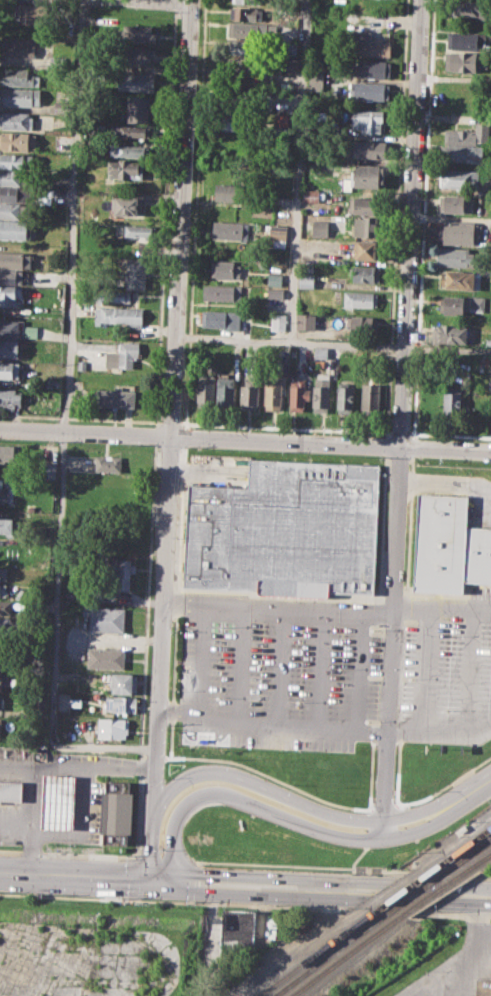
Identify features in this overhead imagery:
road: (162, 2)
building: (249, 2)
road: (175, 5)
building: (472, 8)
building: (32, 12)
building: (247, 13)
building: (245, 30)
building: (140, 33)
building: (466, 41)
building: (368, 44)
building: (240, 47)
building: (19, 48)
building: (291, 48)
building: (139, 56)
building: (464, 61)
building: (242, 65)
building: (291, 65)
building: (58, 66)
building: (372, 68)
building: (20, 77)
building: (315, 79)
building: (136, 82)
building: (369, 90)
building: (20, 96)
building: (281, 104)
building: (62, 107)
building: (138, 109)
building: (370, 120)
building: (16, 121)
building: (232, 121)
building: (130, 131)
building: (467, 134)
building: (18, 141)
building: (371, 149)
building: (130, 151)
building: (466, 154)
building: (17, 161)
building: (125, 169)
building: (368, 175)
building: (11, 177)
building: (460, 178)
building: (230, 191)
building: (13, 193)
building: (312, 195)
building: (456, 203)
building: (127, 205)
building: (365, 205)
building: (13, 210)
road: (194, 214)
road: (164, 217)
road: (297, 226)
building: (367, 226)
building: (320, 229)
building: (15, 230)
building: (229, 230)
building: (134, 232)
building: (457, 232)
building: (279, 234)
building: (366, 249)
building: (455, 256)
building: (15, 260)
building: (225, 269)
building: (136, 273)
building: (365, 273)
building: (11, 277)
building: (277, 279)
building: (307, 280)
building: (461, 280)
building: (222, 292)
building: (275, 293)
building: (10, 295)
building: (113, 298)
building: (360, 298)
building: (455, 304)
building: (119, 317)
building: (221, 319)
building: (310, 320)
building: (279, 321)
building: (363, 324)
building: (9, 328)
building: (30, 331)
building: (451, 333)
road: (233, 338)
building: (488, 341)
building: (9, 348)
road: (447, 349)
building: (321, 353)
building: (123, 355)
building: (450, 363)
building: (81, 364)
road: (403, 366)
building: (9, 370)
building: (205, 390)
building: (226, 391)
building: (321, 392)
building: (249, 393)
building: (273, 393)
building: (298, 394)
building: (11, 397)
building: (115, 397)
building: (345, 397)
building: (370, 397)
building: (452, 398)
road: (170, 410)
road: (80, 417)
road: (169, 422)
road: (63, 425)
road: (284, 427)
road: (399, 433)
road: (154, 434)
road: (449, 435)
road: (183, 436)
road: (245, 439)
building: (9, 453)
building: (108, 464)
building: (48, 470)
road: (448, 483)
building: (6, 493)
building: (8, 526)
building: (287, 529)
building: (449, 545)
building: (4, 573)
building: (121, 574)
building: (4, 590)
road: (176, 600)
road: (174, 605)
building: (10, 607)
road: (443, 607)
road: (291, 609)
building: (106, 618)
building: (6, 625)
building: (106, 658)
road: (199, 667)
road: (239, 668)
road: (278, 669)
road: (318, 670)
road: (426, 670)
parking lot: (445, 670)
road: (357, 671)
road: (468, 672)
parking lot: (279, 673)
building: (0, 679)
building: (123, 682)
building: (1, 701)
building: (77, 701)
building: (120, 704)
road: (168, 709)
road: (141, 716)
building: (0, 725)
building: (112, 728)
road: (262, 728)
road: (371, 732)
road: (405, 732)
road: (458, 734)
road: (143, 757)
road: (154, 757)
road: (18, 768)
road: (119, 768)
road: (229, 773)
road: (268, 776)
road: (385, 779)
road: (445, 785)
building: (12, 791)
road: (243, 799)
building: (57, 802)
gas station: (57, 802)
road: (383, 808)
road: (439, 811)
building: (116, 812)
road: (17, 829)
road: (82, 830)
railway: (461, 848)
road: (33, 852)
railway: (468, 854)
railway: (469, 856)
railway: (477, 861)
railway: (441, 874)
railway: (441, 874)
road: (79, 876)
traffic signals: (158, 882)
road: (324, 889)
railway: (399, 892)
railway: (430, 894)
railway: (409, 897)
road: (475, 916)
building: (237, 929)
road: (484, 937)
railway: (312, 955)
railway: (327, 955)
railway: (344, 955)
road: (170, 957)
road: (452, 961)
building: (484, 988)

